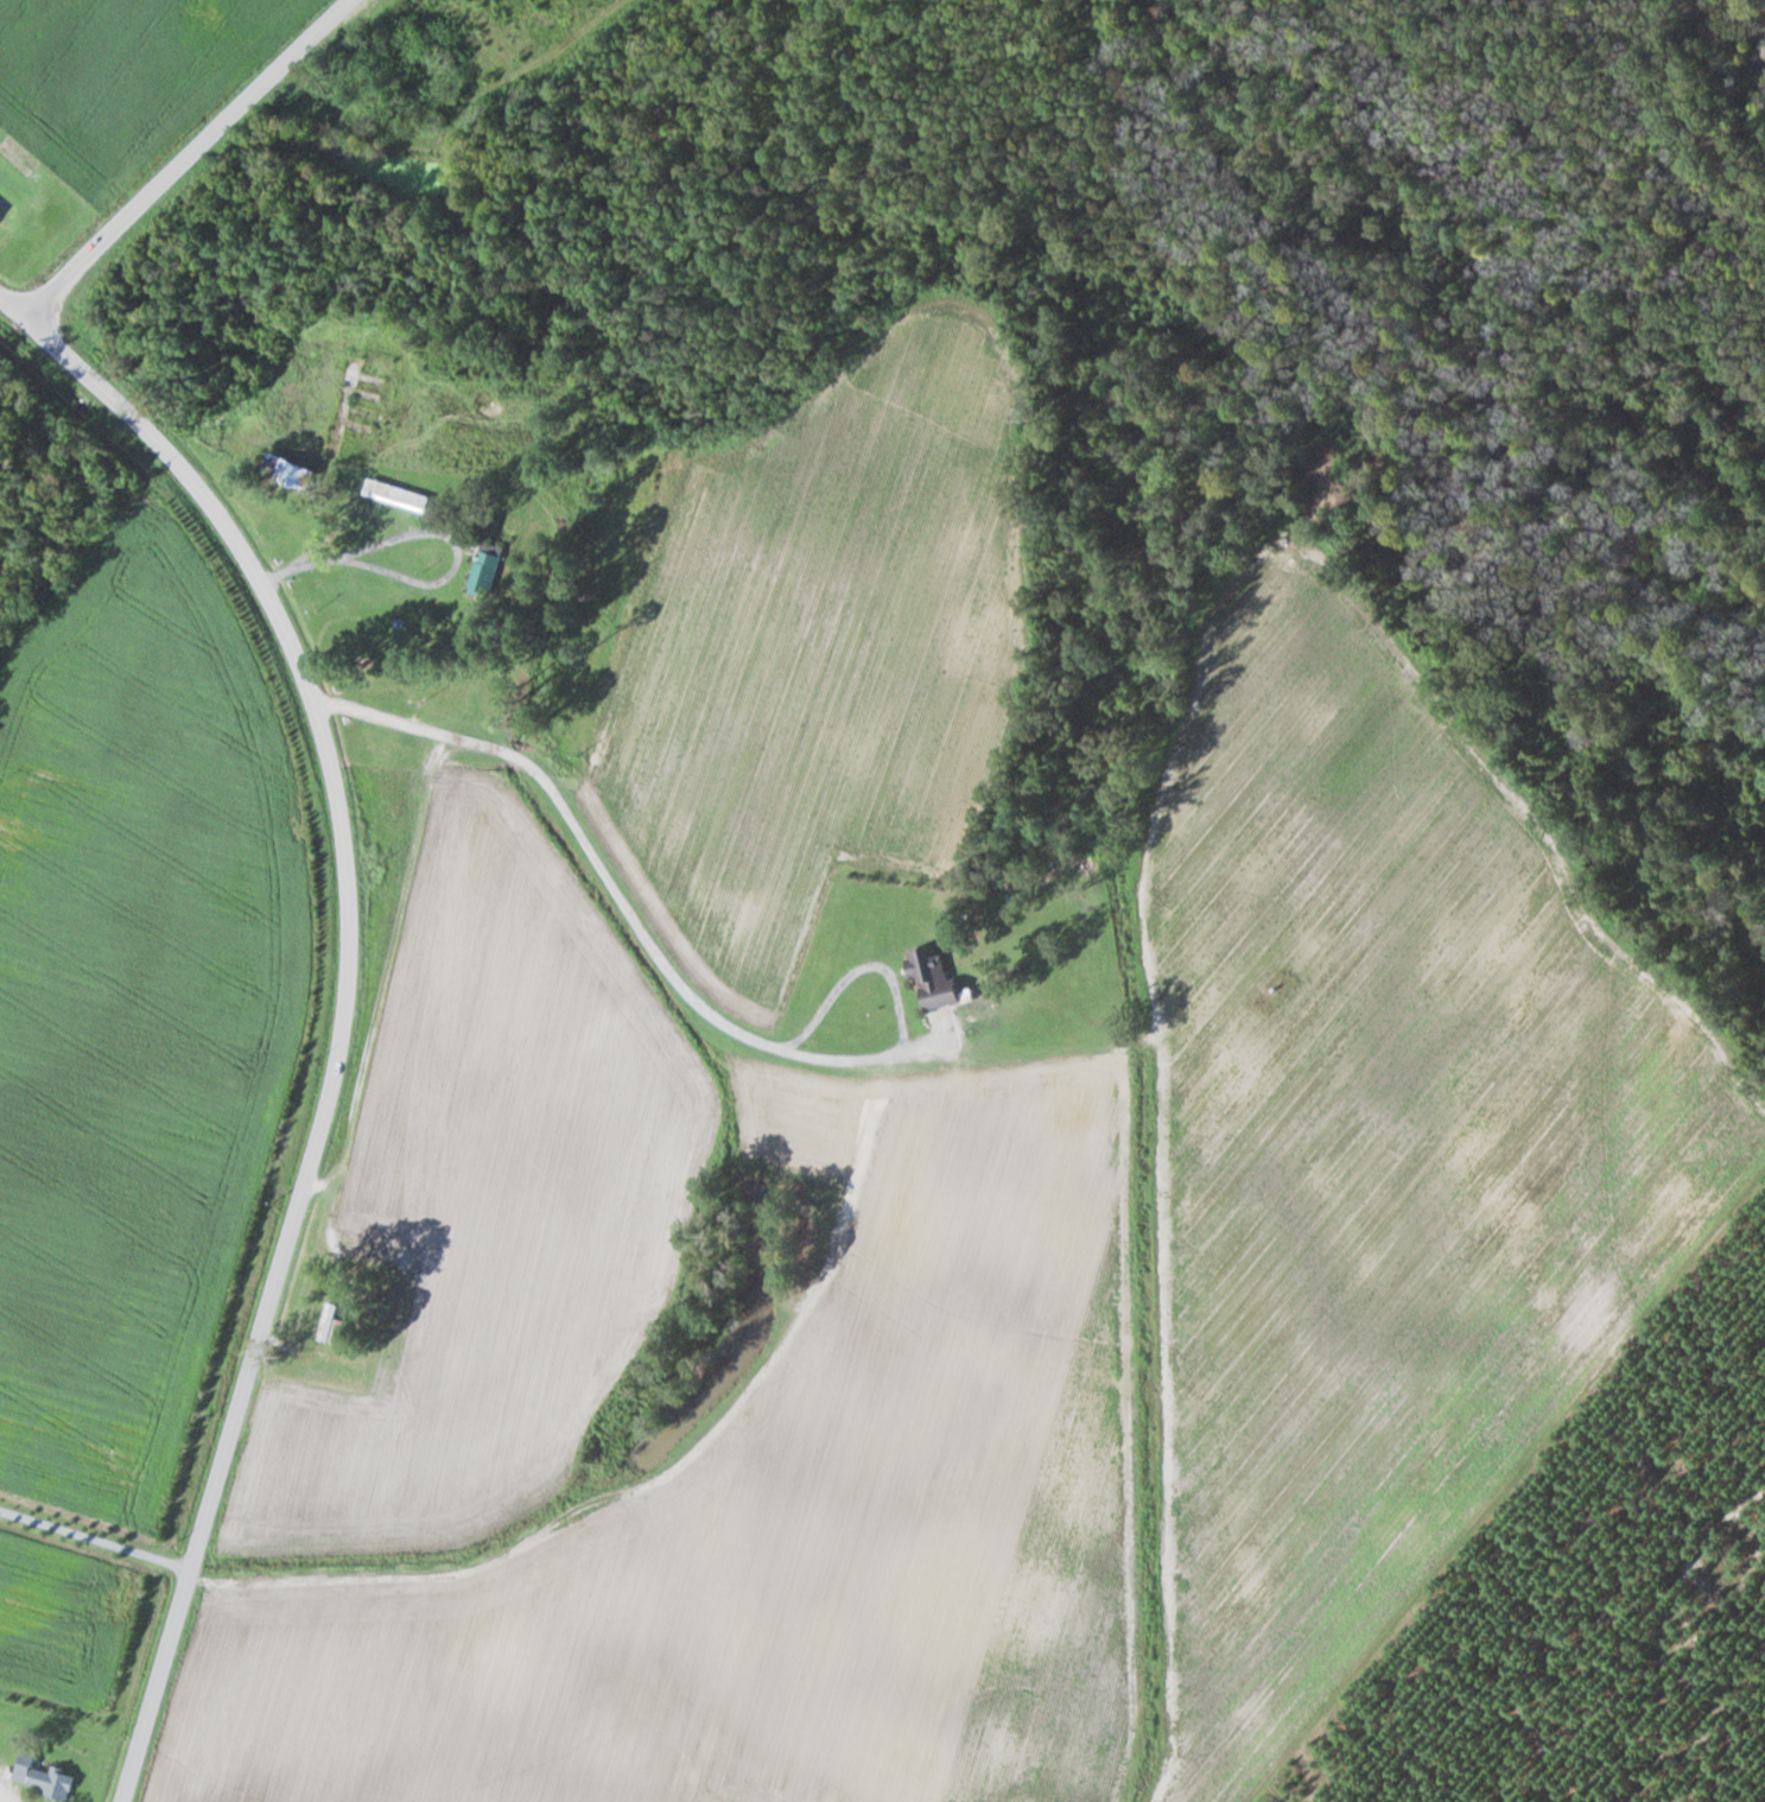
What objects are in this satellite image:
road: (186, 158)
building: (347, 380)
building: (377, 436)
building: (284, 472)
building: (395, 495)
building: (484, 567)
road: (672, 973)
building: (928, 977)
road: (344, 1003)
building: (328, 1321)
building: (49, 1781)

